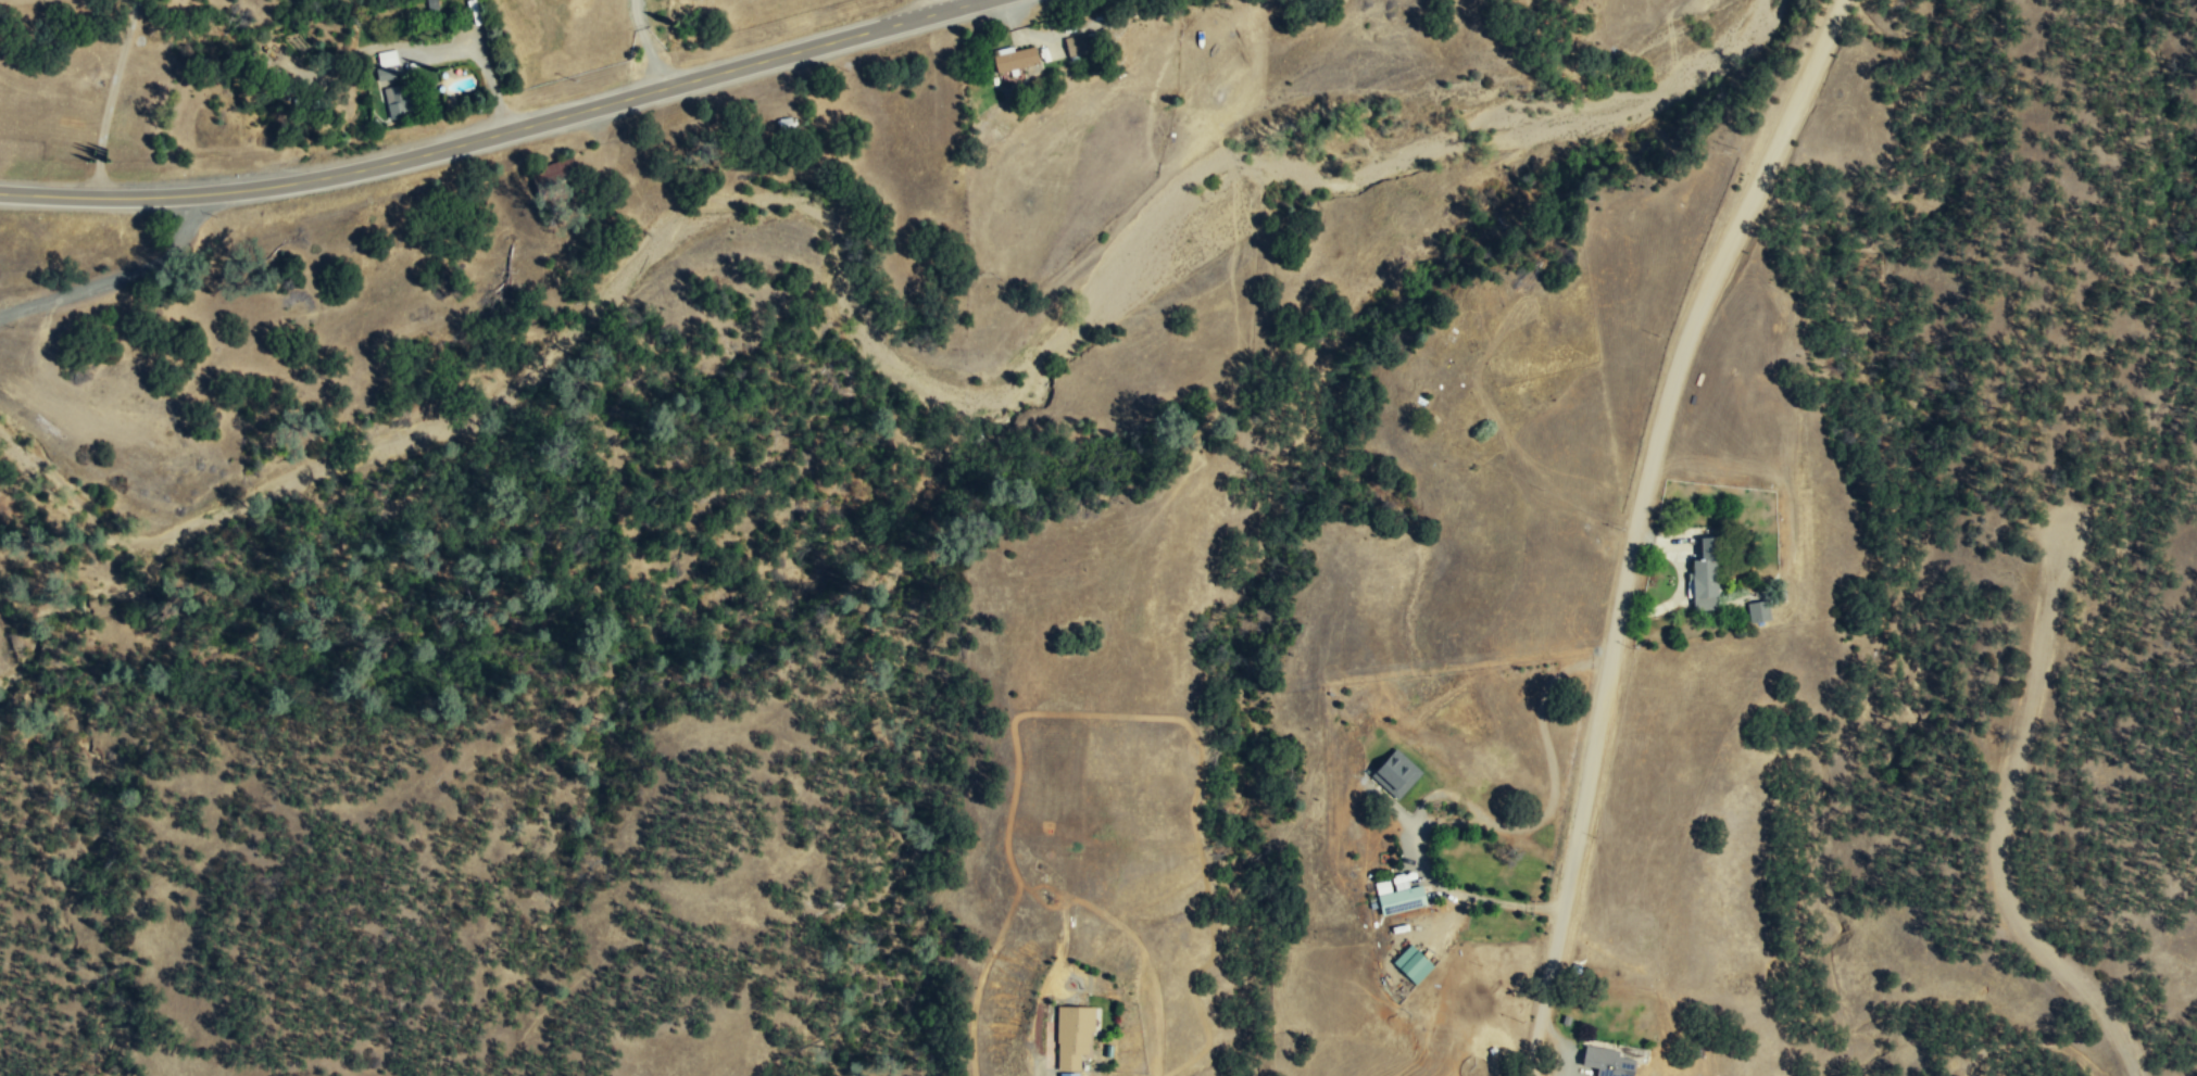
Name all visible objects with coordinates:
road: (951, 4)
building: (1077, 45)
building: (1015, 60)
road: (109, 97)
building: (396, 100)
road: (499, 134)
road: (118, 278)
river: (78, 494)
road: (1646, 522)
building: (1705, 574)
building: (1758, 610)
building: (1395, 773)
road: (2005, 831)
building: (1398, 895)
road: (1465, 900)
building: (1413, 963)
building: (1072, 1035)
building: (1051, 1045)
road: (1076, 1061)
building: (1606, 1062)
building: (1953, 1063)
building: (1068, 1074)

